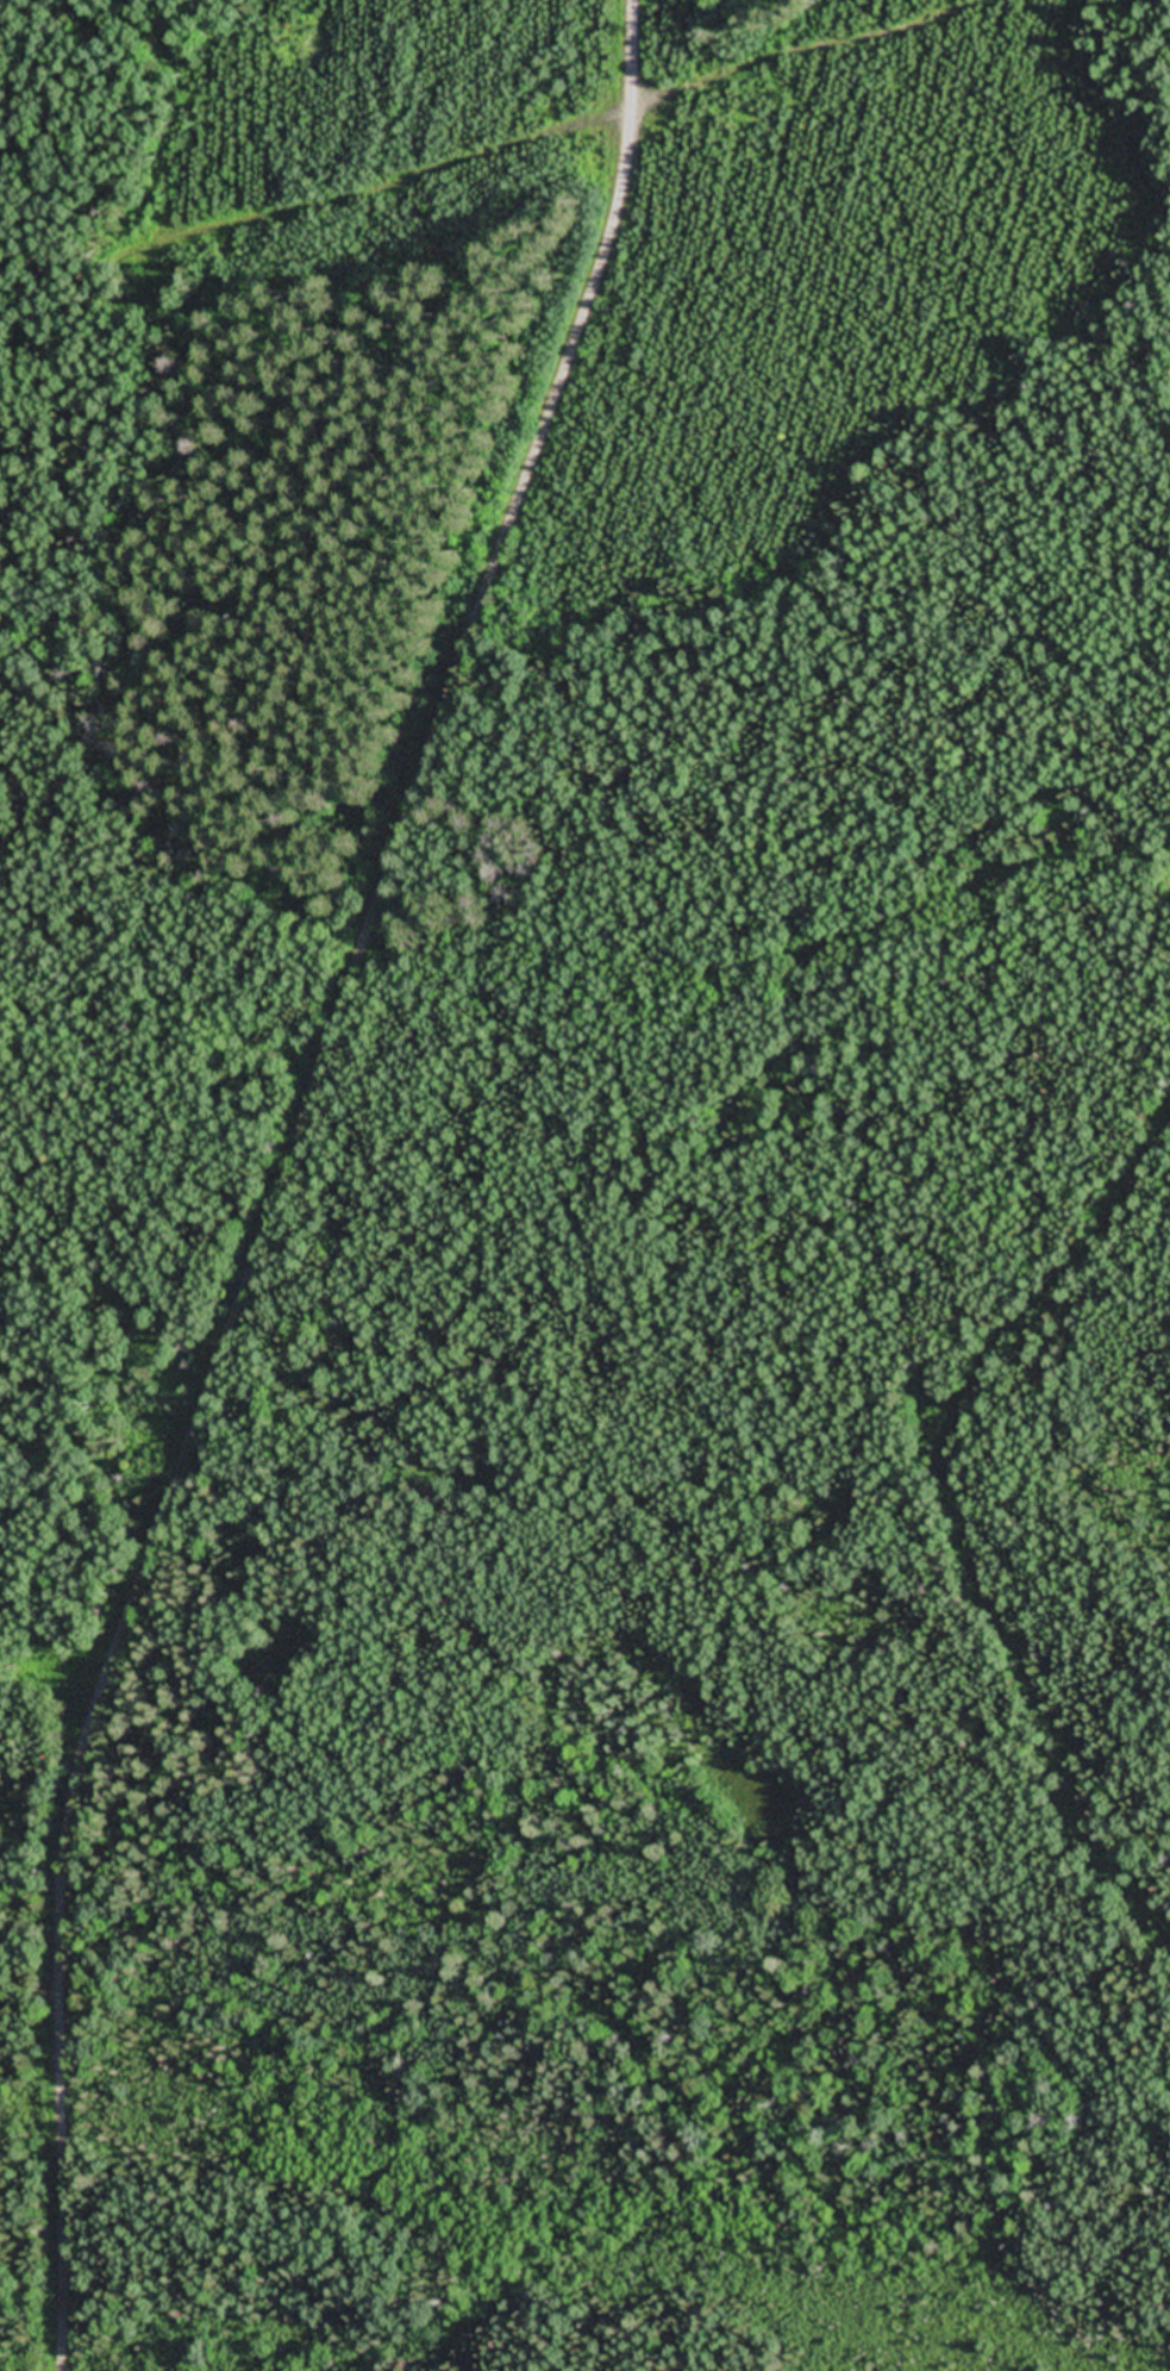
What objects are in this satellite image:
road: (1137, 12)
road: (781, 942)
road: (283, 1174)
road: (946, 1452)

